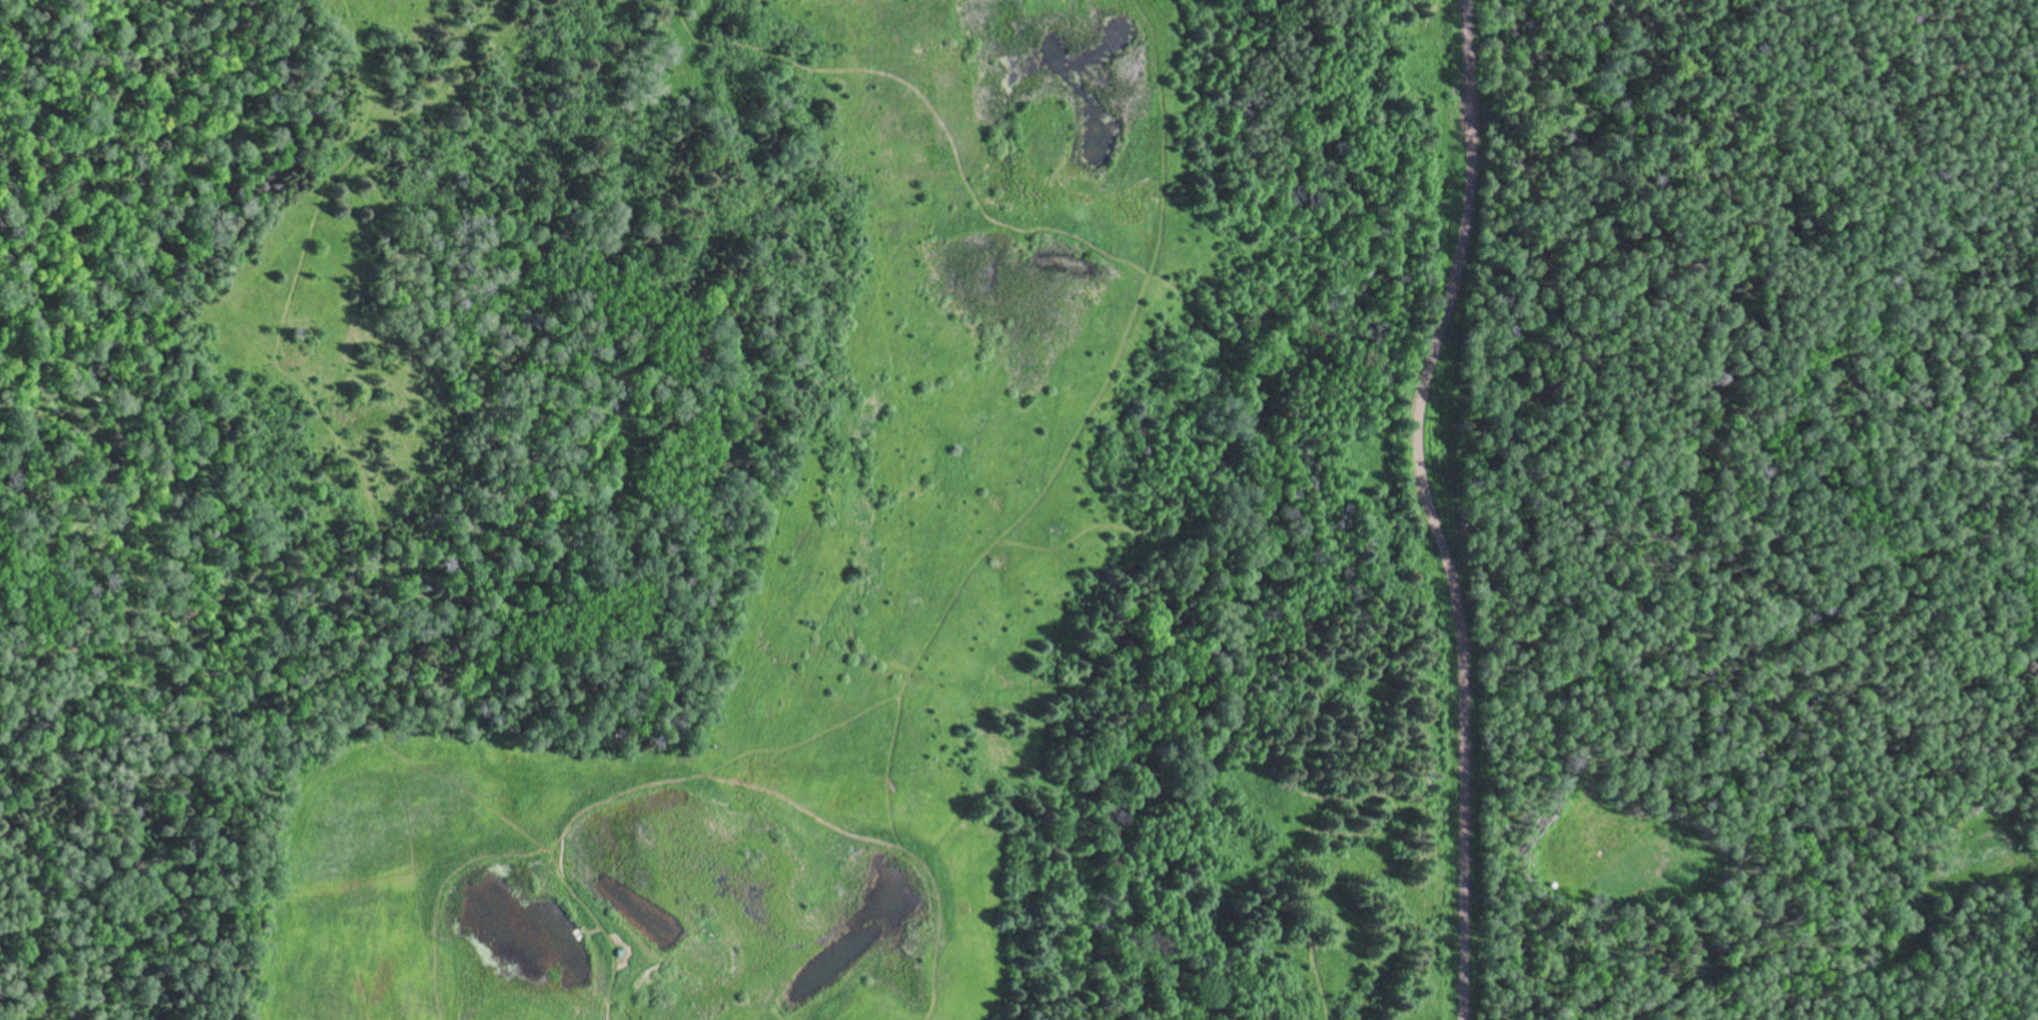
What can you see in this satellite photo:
road: (1467, 110)
road: (1407, 454)
road: (1462, 853)

